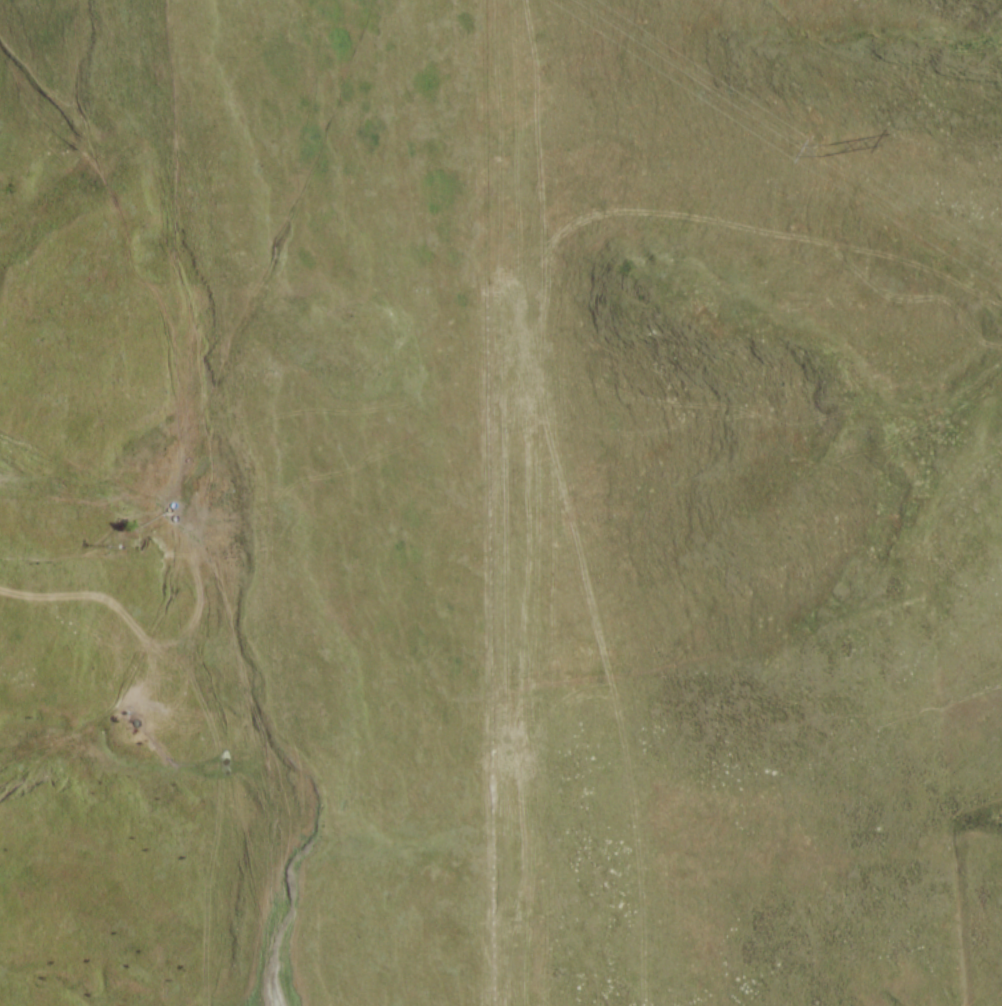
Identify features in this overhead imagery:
power tower: (824, 151)

